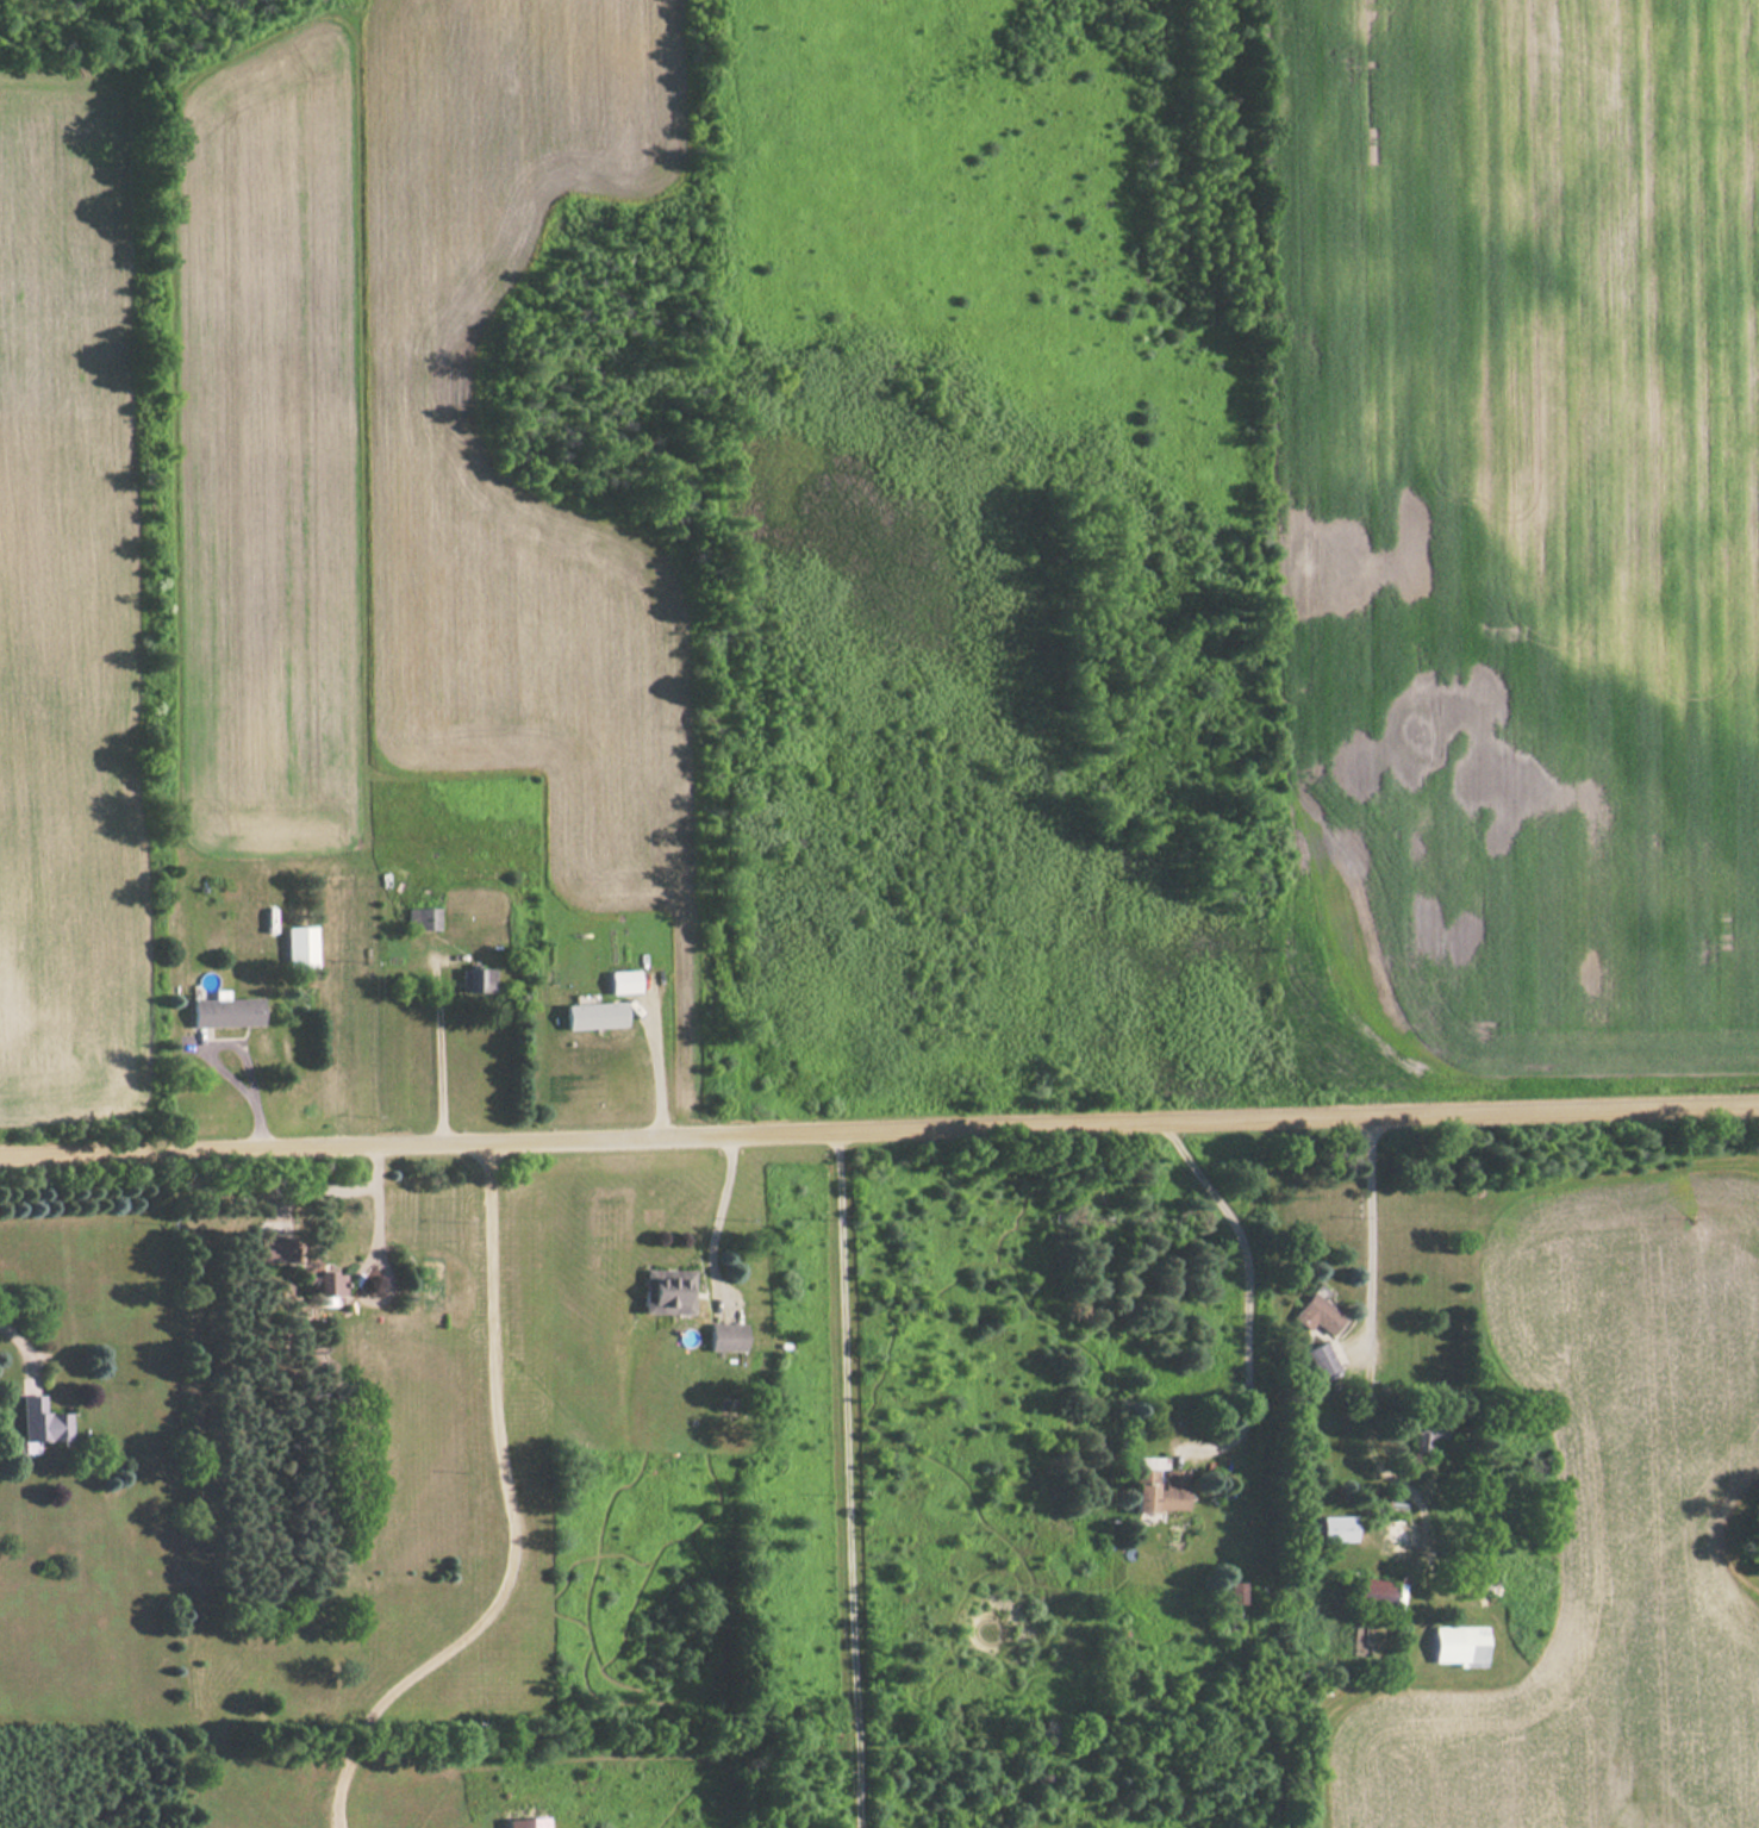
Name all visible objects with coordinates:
building: (422, 918)
building: (300, 946)
building: (479, 979)
building: (226, 1011)
road: (879, 1128)
building: (277, 1249)
building: (329, 1287)
building: (666, 1291)
building: (1317, 1315)
building: (726, 1336)
building: (1322, 1361)
building: (43, 1422)
building: (1429, 1434)
building: (1160, 1491)
building: (1335, 1529)
building: (1396, 1531)
building: (1235, 1592)
building: (1378, 1595)
building: (1459, 1646)

